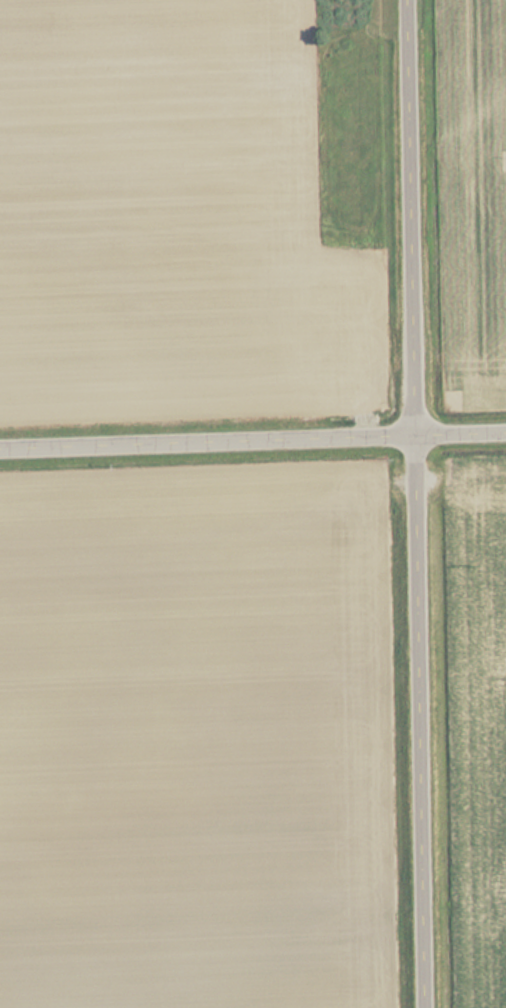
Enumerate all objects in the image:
road: (252, 436)
road: (423, 503)

